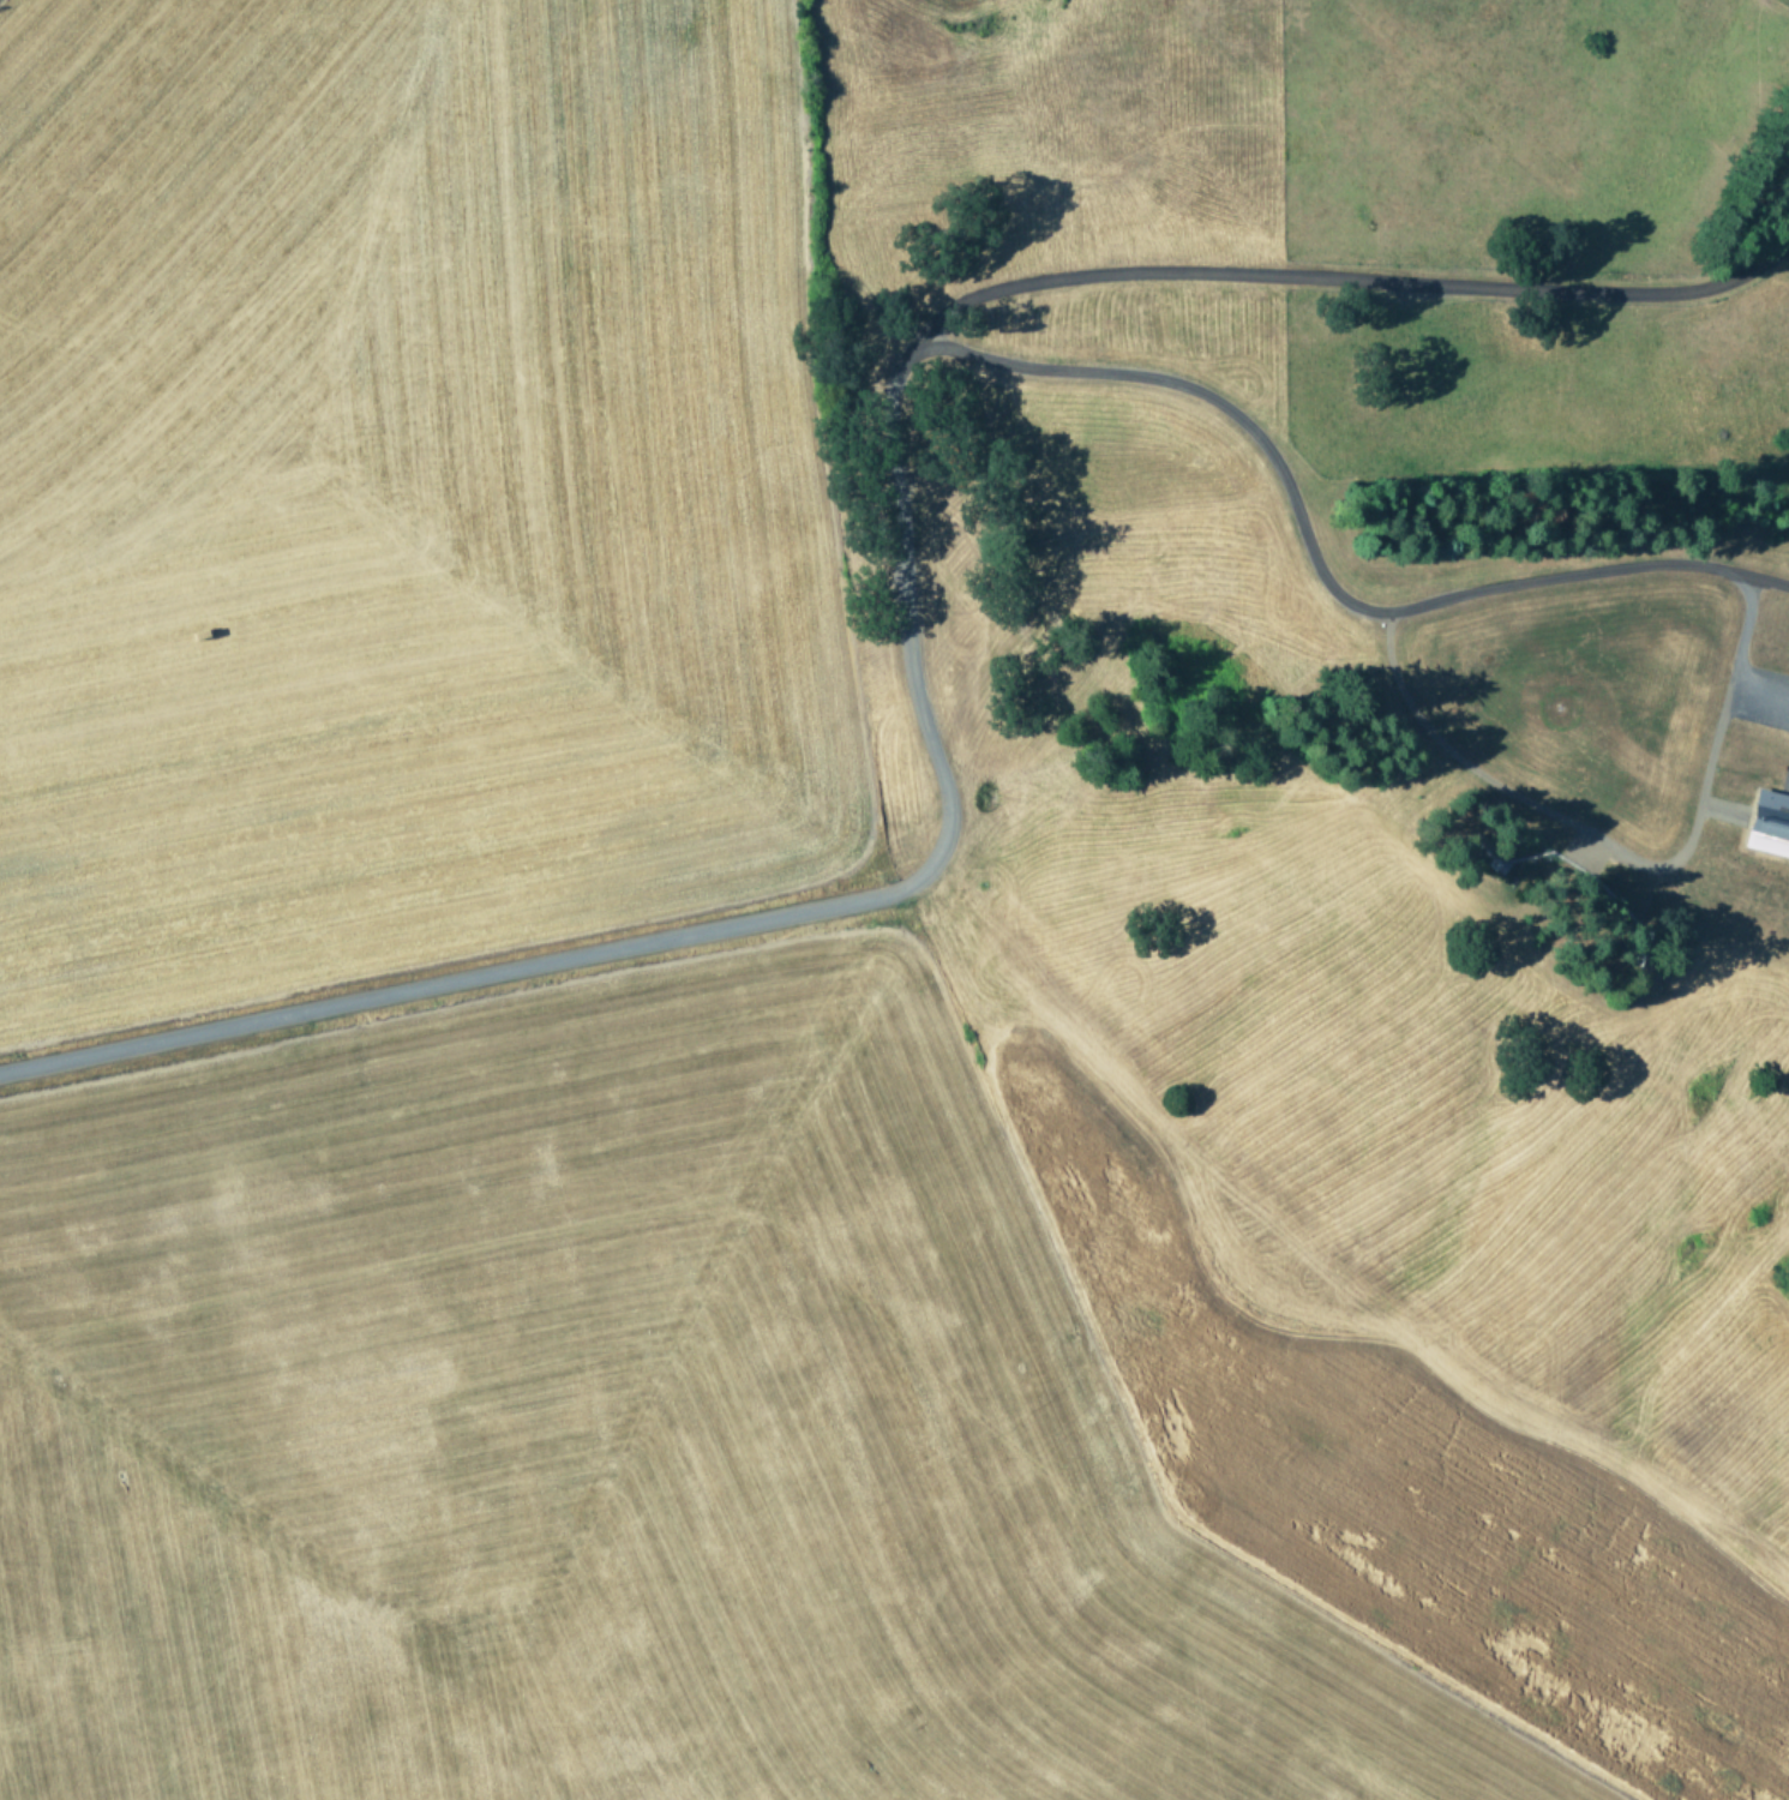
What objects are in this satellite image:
road: (1353, 276)
road: (900, 534)
crop: (703, 961)

